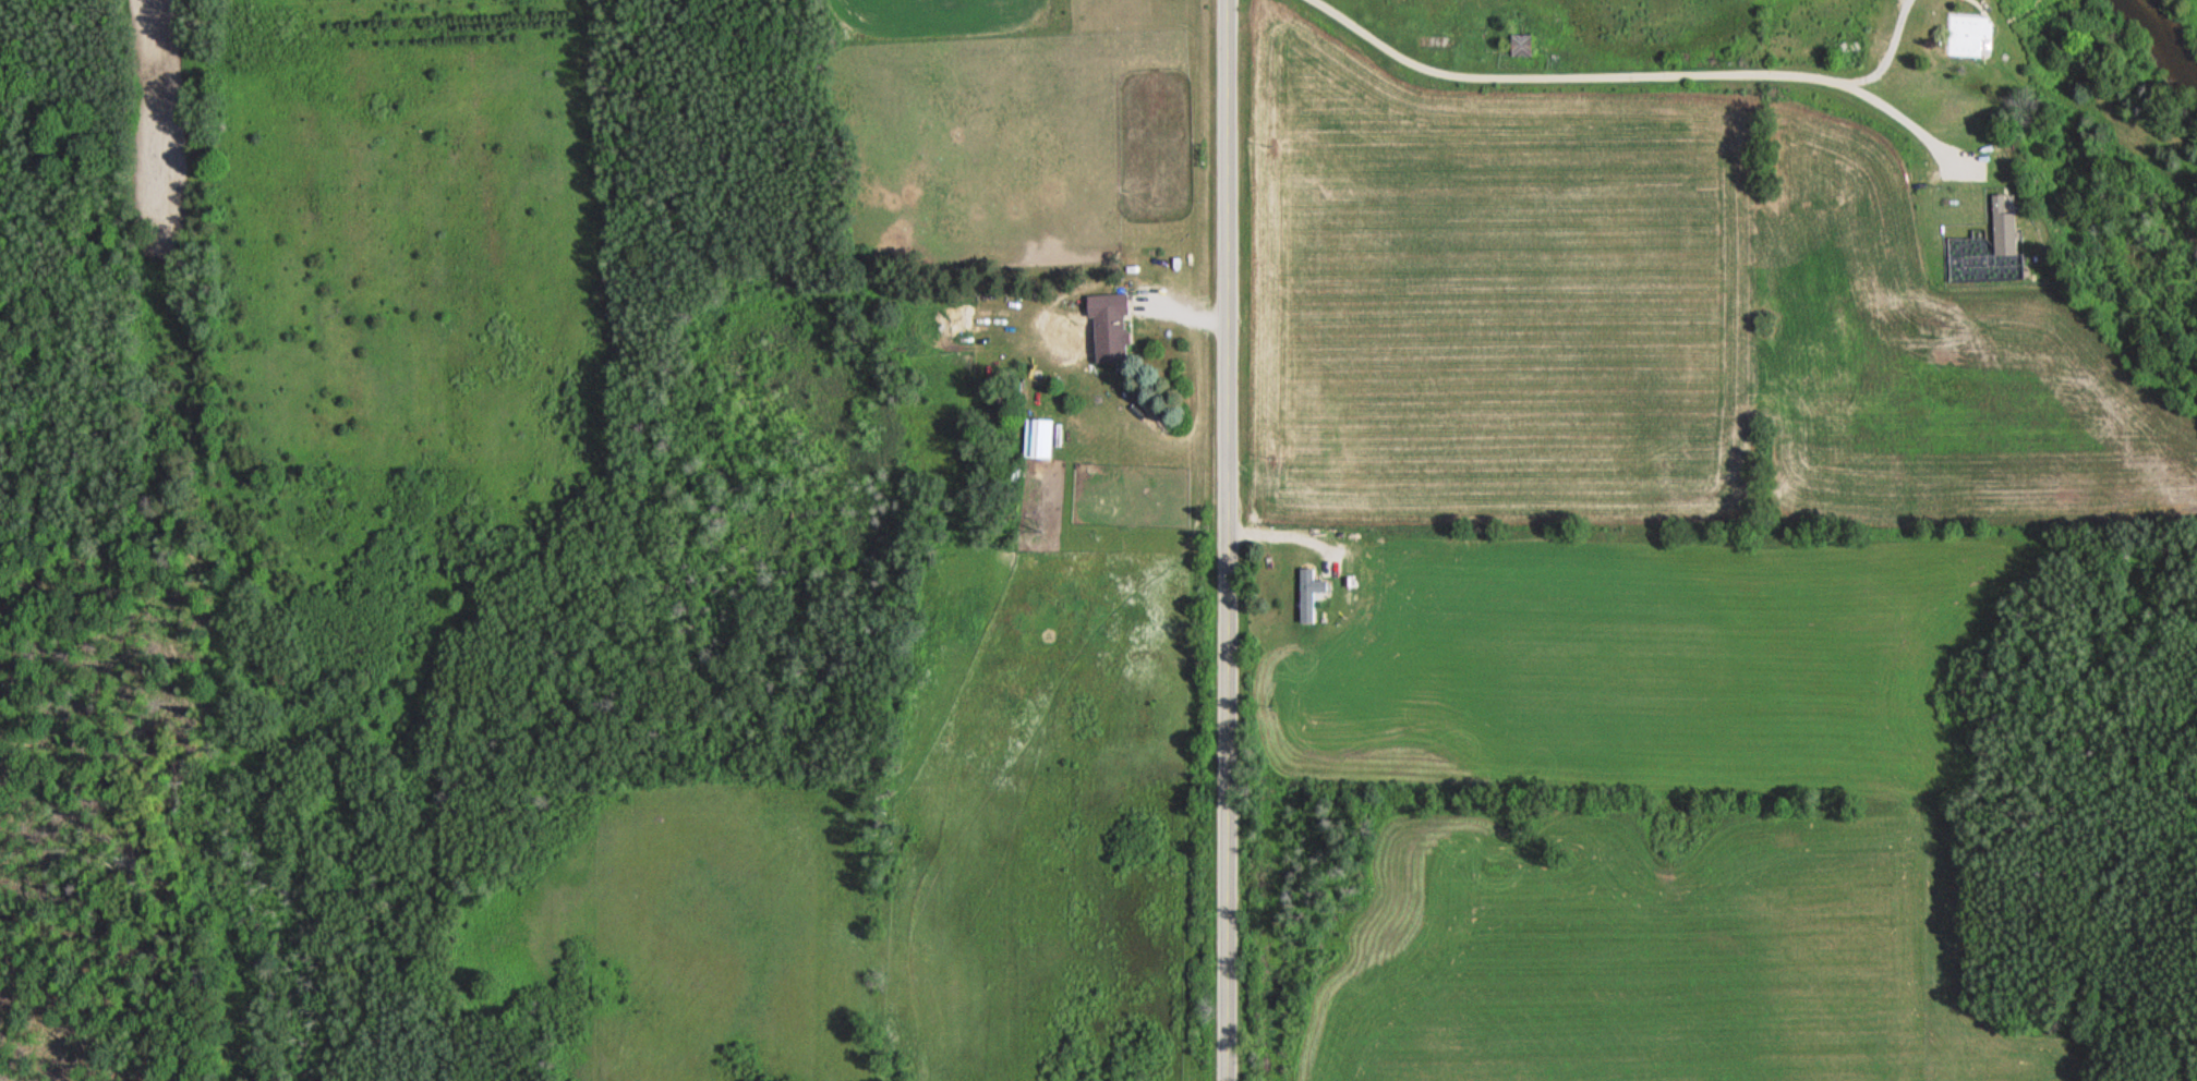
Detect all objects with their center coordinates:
building: (1969, 36)
building: (1519, 46)
river: (2154, 47)
road: (1622, 74)
building: (1108, 328)
building: (1036, 439)
road: (1230, 540)
building: (1318, 586)

